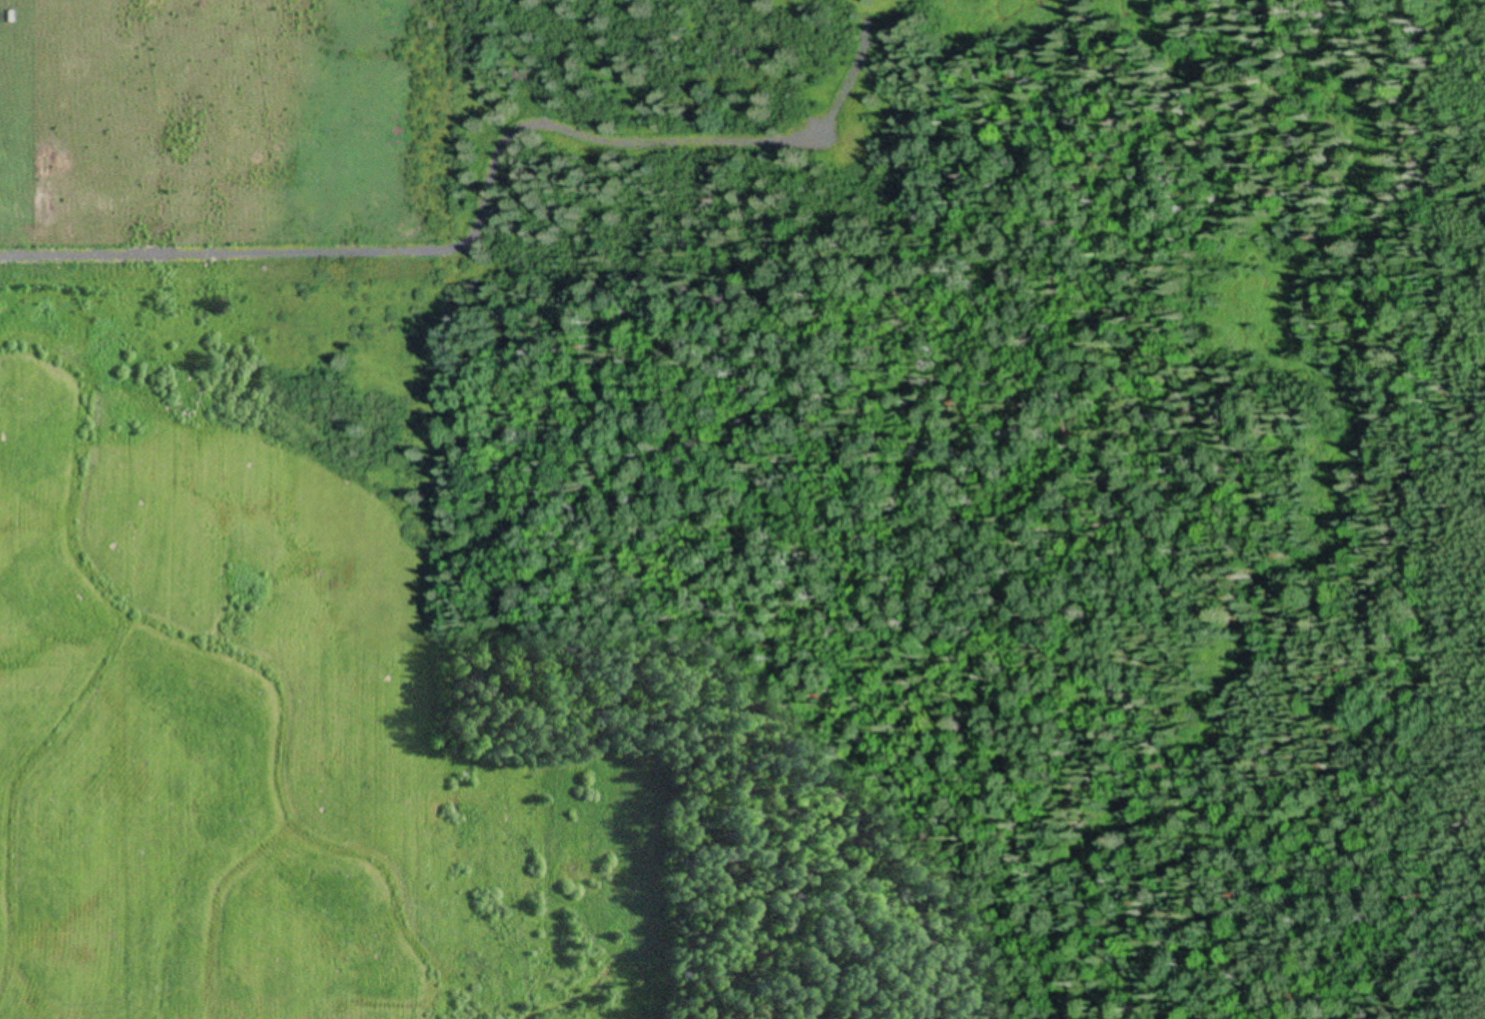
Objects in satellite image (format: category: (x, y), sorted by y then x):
crop: (258, 552)

